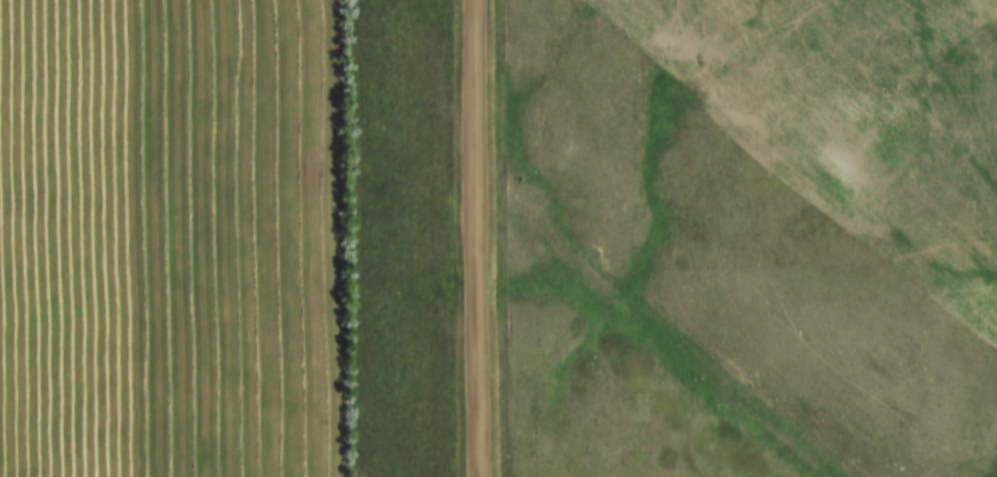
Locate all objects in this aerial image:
road: (472, 238)

